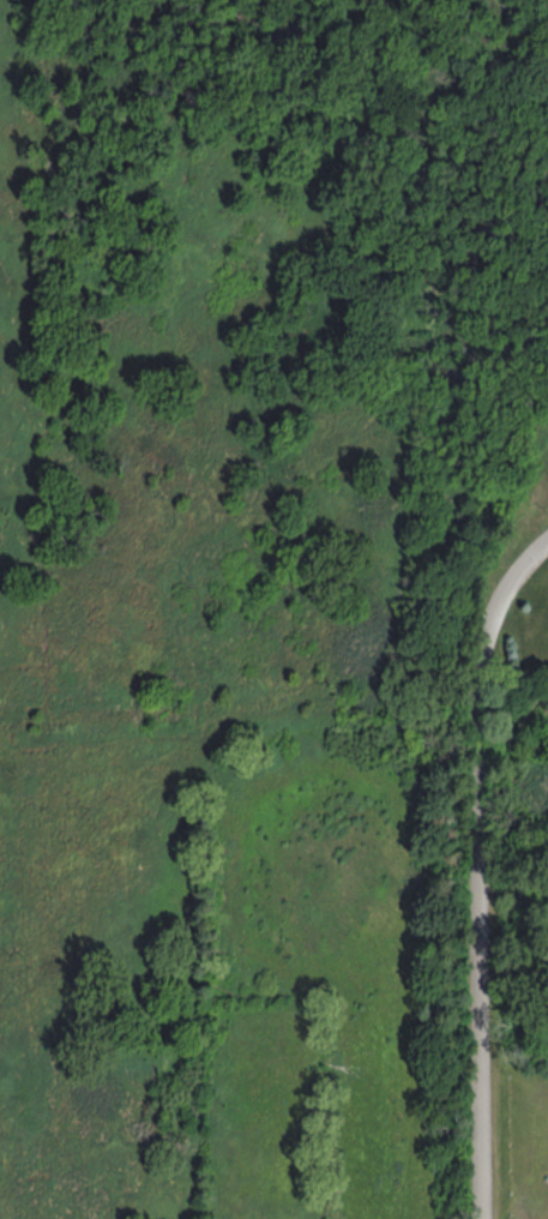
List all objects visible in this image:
road: (486, 870)

